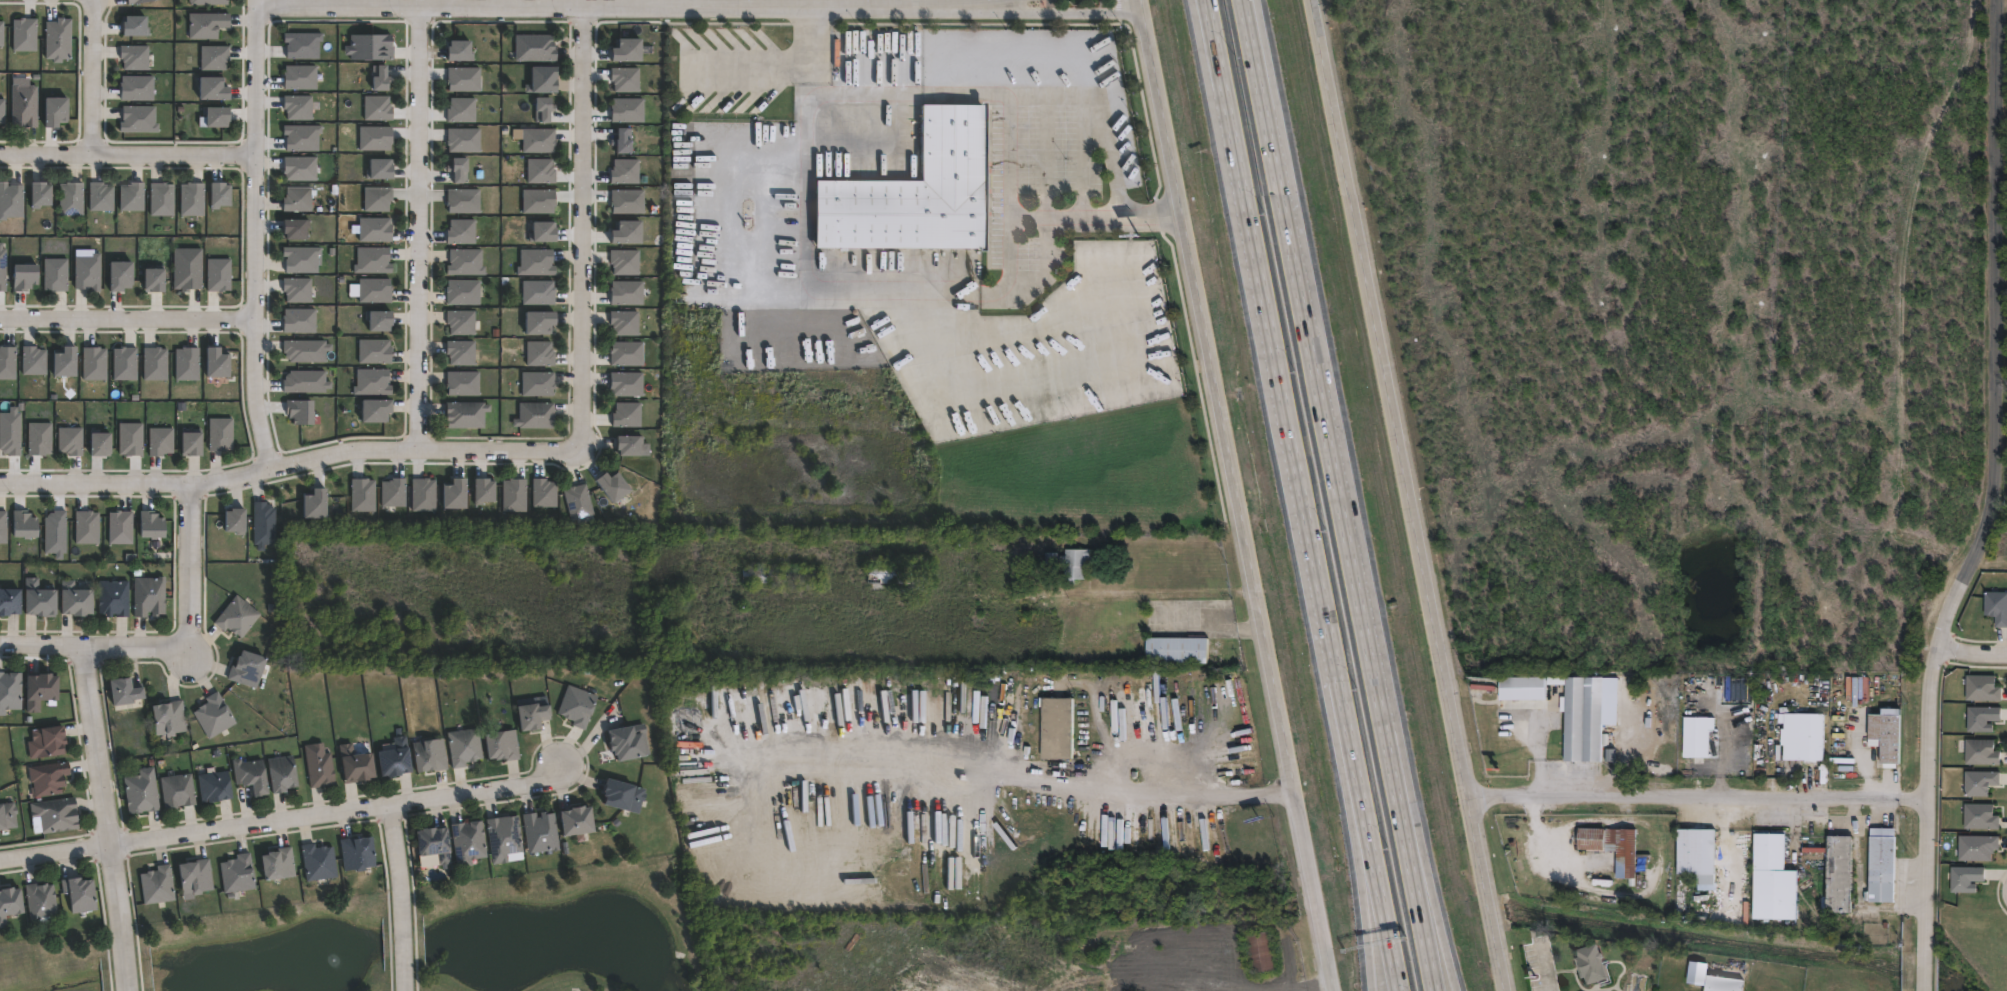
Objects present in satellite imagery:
building: (136, 1)
building: (209, 2)
road: (997, 2)
road: (619, 5)
road: (1202, 7)
road: (1203, 7)
road: (1934, 10)
road: (1060, 12)
road: (1913, 20)
building: (134, 24)
building: (207, 24)
road: (1248, 29)
road: (1251, 29)
road: (803, 31)
building: (1, 32)
building: (24, 34)
building: (58, 39)
building: (303, 44)
building: (371, 46)
building: (535, 47)
building: (629, 49)
building: (462, 50)
building: (134, 56)
building: (214, 57)
road: (745, 58)
road: (92, 76)
building: (299, 77)
building: (381, 78)
building: (464, 78)
building: (542, 78)
building: (626, 79)
road: (1393, 79)
building: (137, 87)
building: (213, 87)
road: (1445, 92)
road: (1488, 92)
road: (885, 95)
building: (24, 105)
building: (298, 107)
building: (378, 108)
building: (462, 109)
building: (544, 109)
building: (628, 109)
building: (2, 110)
building: (56, 110)
road: (1530, 113)
building: (218, 115)
road: (1098, 115)
building: (139, 119)
road: (1567, 120)
road: (1813, 122)
road: (1891, 122)
road: (1934, 133)
building: (303, 136)
building: (376, 138)
building: (464, 139)
building: (539, 140)
building: (1690, 140)
road: (1853, 141)
building: (623, 142)
road: (127, 154)
building: (300, 168)
building: (381, 169)
building: (459, 169)
building: (541, 171)
building: (625, 171)
road: (1413, 182)
building: (910, 193)
building: (40, 194)
building: (220, 194)
building: (101, 196)
building: (132, 196)
road: (1444, 197)
building: (378, 198)
building: (70, 199)
building: (162, 199)
building: (193, 199)
building: (298, 199)
building: (10, 200)
building: (464, 200)
building: (539, 200)
building: (627, 201)
road: (1032, 217)
road: (416, 227)
road: (580, 228)
building: (296, 229)
building: (375, 229)
building: (462, 231)
building: (545, 232)
building: (629, 232)
road: (253, 235)
road: (1945, 245)
road: (1402, 256)
building: (301, 258)
building: (373, 260)
building: (625, 261)
building: (466, 262)
building: (536, 262)
building: (2, 267)
building: (188, 269)
building: (88, 272)
building: (55, 273)
building: (219, 274)
building: (120, 275)
building: (25, 276)
road: (1521, 276)
building: (154, 279)
road: (849, 288)
building: (298, 290)
building: (375, 290)
building: (464, 292)
building: (539, 292)
building: (628, 292)
road: (126, 320)
building: (299, 320)
building: (381, 320)
building: (461, 321)
building: (541, 322)
building: (625, 322)
road: (1579, 323)
road: (1940, 327)
building: (306, 350)
building: (375, 351)
building: (461, 351)
building: (540, 353)
building: (627, 353)
building: (34, 360)
building: (7, 362)
building: (65, 362)
building: (94, 363)
building: (155, 363)
building: (188, 363)
building: (217, 363)
building: (125, 364)
road: (1274, 368)
road: (1594, 380)
road: (1629, 380)
road: (1670, 380)
road: (1707, 380)
road: (1785, 380)
building: (306, 381)
building: (373, 381)
road: (1747, 381)
road: (1823, 381)
road: (1863, 381)
building: (464, 383)
building: (538, 383)
building: (627, 383)
road: (1552, 385)
road: (1516, 389)
road: (1318, 396)
building: (377, 409)
building: (301, 411)
building: (467, 414)
building: (536, 415)
building: (628, 415)
building: (10, 432)
building: (221, 434)
building: (40, 438)
building: (131, 439)
building: (71, 440)
building: (161, 441)
building: (101, 444)
building: (193, 444)
building: (630, 445)
road: (288, 464)
road: (1629, 466)
road: (1785, 467)
building: (615, 486)
building: (485, 491)
building: (393, 492)
building: (545, 492)
building: (363, 494)
building: (456, 494)
building: (424, 495)
building: (515, 495)
road: (1230, 495)
road: (1408, 495)
road: (1703, 496)
building: (579, 501)
road: (1994, 502)
building: (317, 504)
building: (237, 521)
building: (24, 524)
building: (151, 524)
building: (264, 524)
building: (3, 527)
building: (87, 527)
building: (121, 527)
road: (1629, 532)
building: (55, 533)
road: (1784, 534)
crop: (1998, 542)
building: (1073, 563)
road: (188, 569)
building: (897, 575)
building: (782, 576)
road: (1139, 595)
building: (149, 597)
building: (37, 599)
building: (113, 599)
building: (74, 601)
building: (9, 602)
building: (1996, 608)
building: (236, 617)
road: (1753, 622)
road: (93, 649)
building: (1180, 651)
road: (1969, 651)
building: (247, 669)
building: (1524, 685)
building: (1982, 689)
building: (38, 691)
building: (9, 692)
building: (123, 693)
road: (1529, 703)
building: (577, 707)
building: (213, 716)
building: (532, 717)
building: (168, 719)
building: (1585, 719)
building: (1981, 719)
building: (1061, 729)
building: (1021, 731)
building: (1700, 737)
building: (1806, 737)
building: (1891, 737)
building: (45, 743)
building: (628, 743)
building: (501, 746)
building: (464, 748)
building: (1981, 753)
building: (429, 756)
building: (394, 759)
road: (1009, 764)
building: (355, 765)
building: (319, 766)
road: (1563, 774)
building: (281, 775)
building: (250, 776)
building: (48, 779)
building: (1979, 783)
road: (1539, 787)
building: (213, 788)
building: (141, 792)
building: (177, 792)
building: (623, 797)
road: (1694, 801)
building: (7, 816)
building: (56, 816)
building: (1980, 818)
road: (105, 819)
road: (283, 821)
building: (577, 822)
building: (541, 833)
building: (504, 840)
building: (468, 843)
building: (434, 845)
building: (1621, 847)
building: (1976, 848)
road: (1540, 849)
building: (356, 854)
building: (1701, 854)
road: (1357, 856)
road: (1368, 856)
road: (1406, 861)
building: (318, 863)
building: (1886, 864)
building: (277, 865)
building: (1846, 873)
building: (237, 874)
building: (195, 876)
building: (1778, 877)
building: (1966, 879)
road: (1426, 882)
building: (157, 884)
building: (79, 893)
road: (400, 897)
building: (39, 900)
building: (8, 902)
park: (438, 942)
building: (1265, 951)
fountain: (333, 953)
building: (1595, 963)
building: (1701, 972)
building: (1640, 982)
building: (1728, 983)

